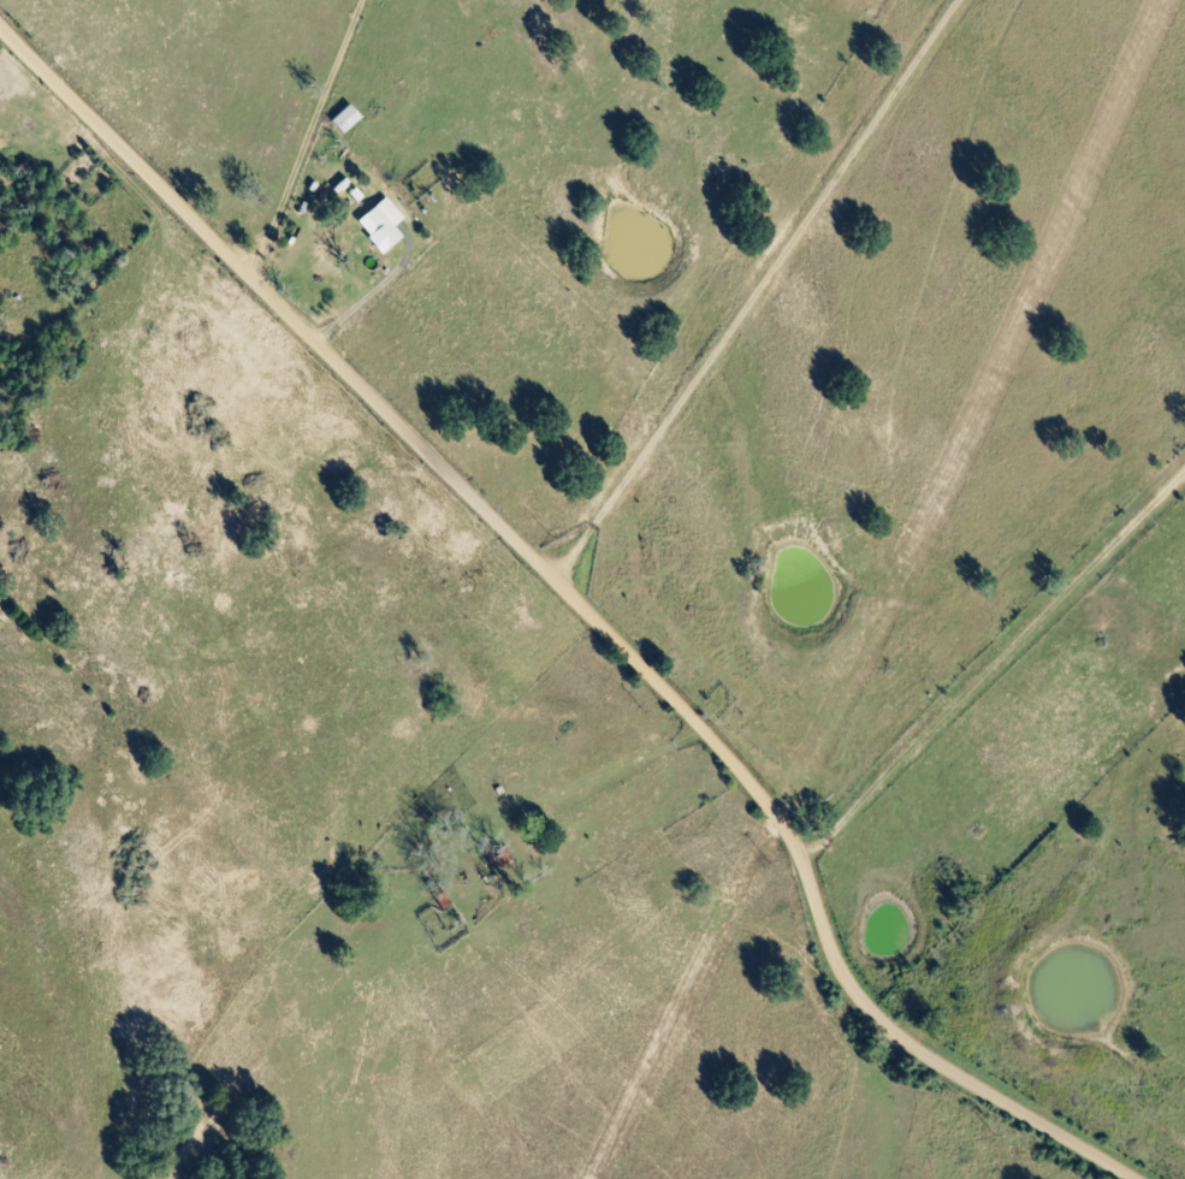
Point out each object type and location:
building: (349, 119)
building: (384, 224)
road: (586, 599)
road: (1001, 640)

